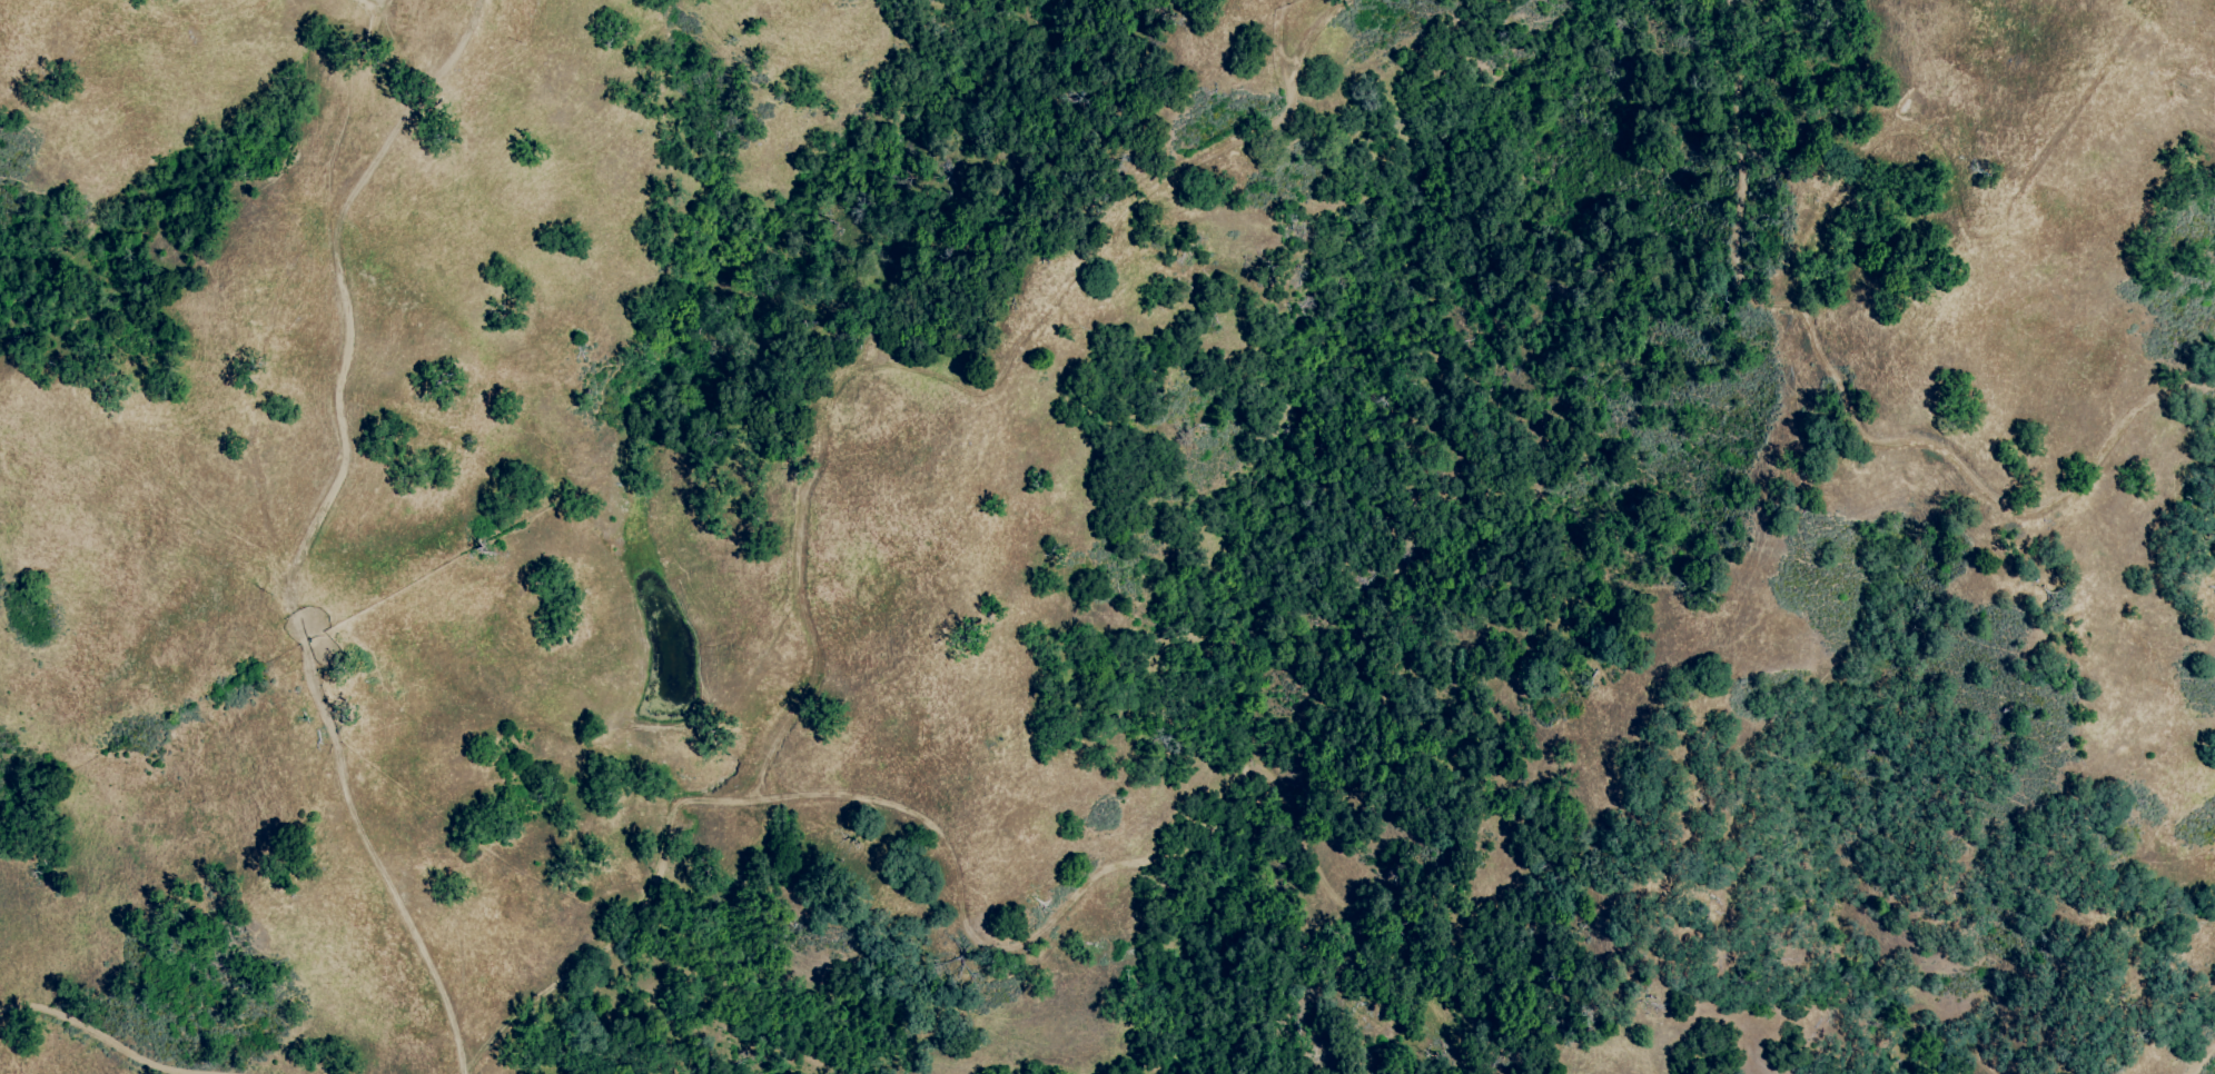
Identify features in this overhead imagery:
road: (312, 525)
road: (808, 796)
road: (100, 1036)
road: (463, 1072)

